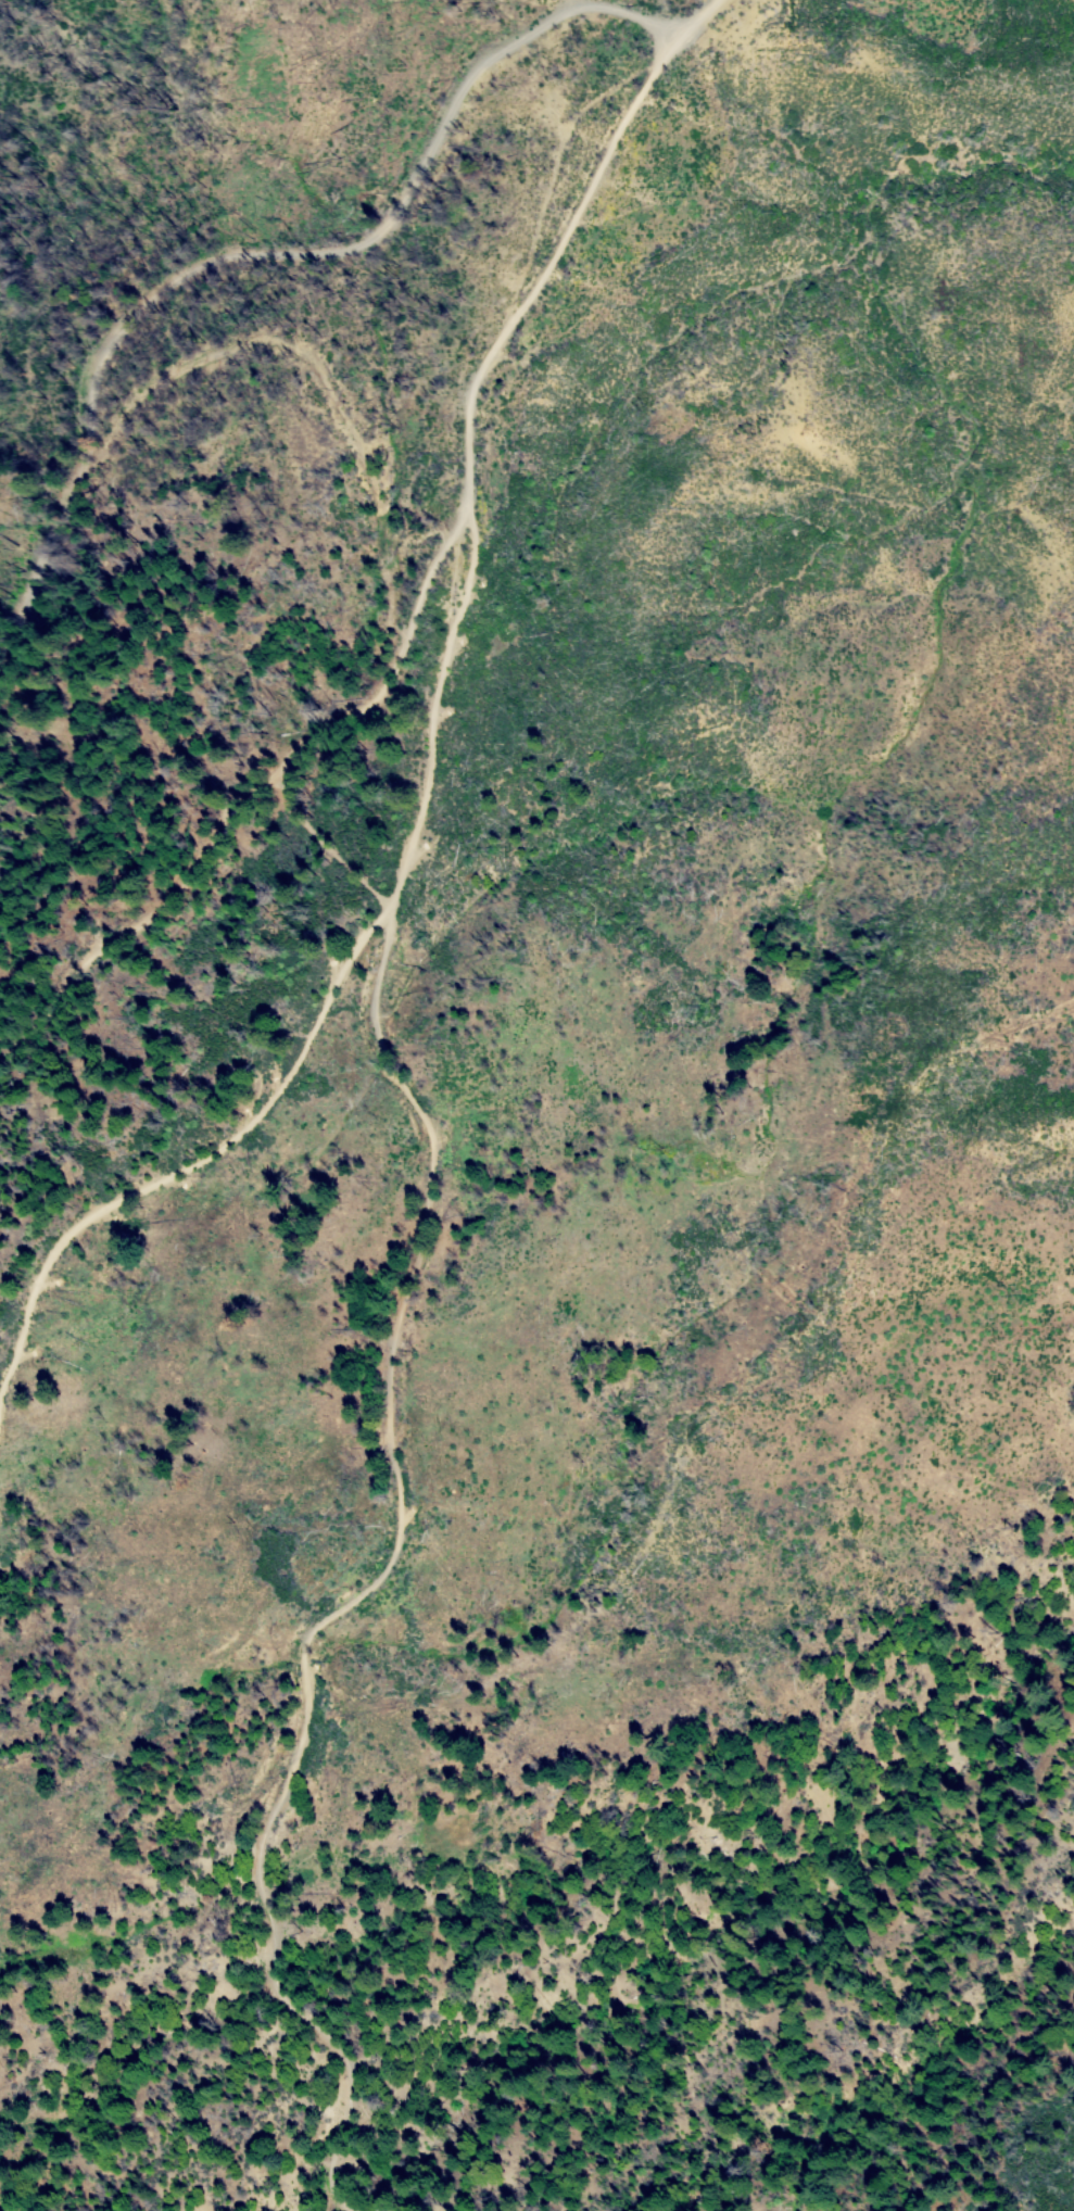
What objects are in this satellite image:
road: (287, 253)
road: (153, 921)
road: (395, 1077)

